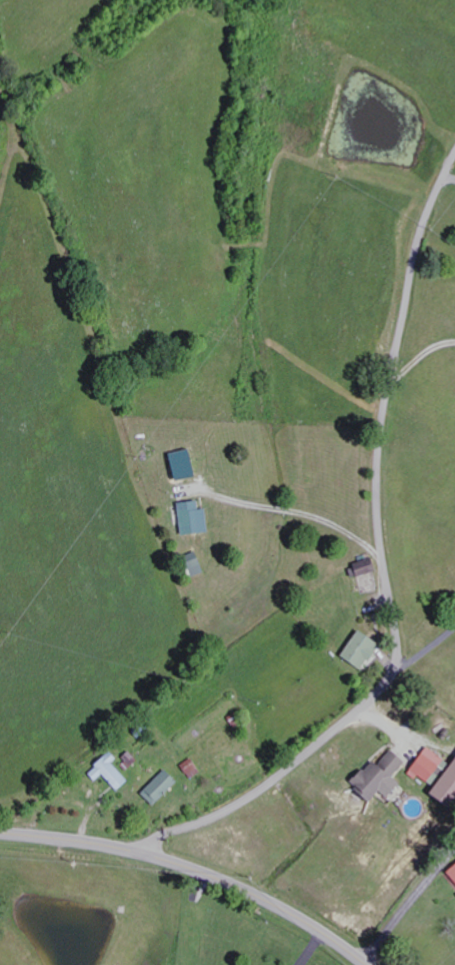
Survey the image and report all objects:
building: (180, 464)
building: (190, 518)
building: (191, 565)
building: (361, 567)
road: (389, 574)
building: (358, 650)
building: (424, 764)
building: (189, 768)
building: (107, 771)
building: (376, 777)
building: (445, 785)
building: (157, 787)
road: (192, 871)

